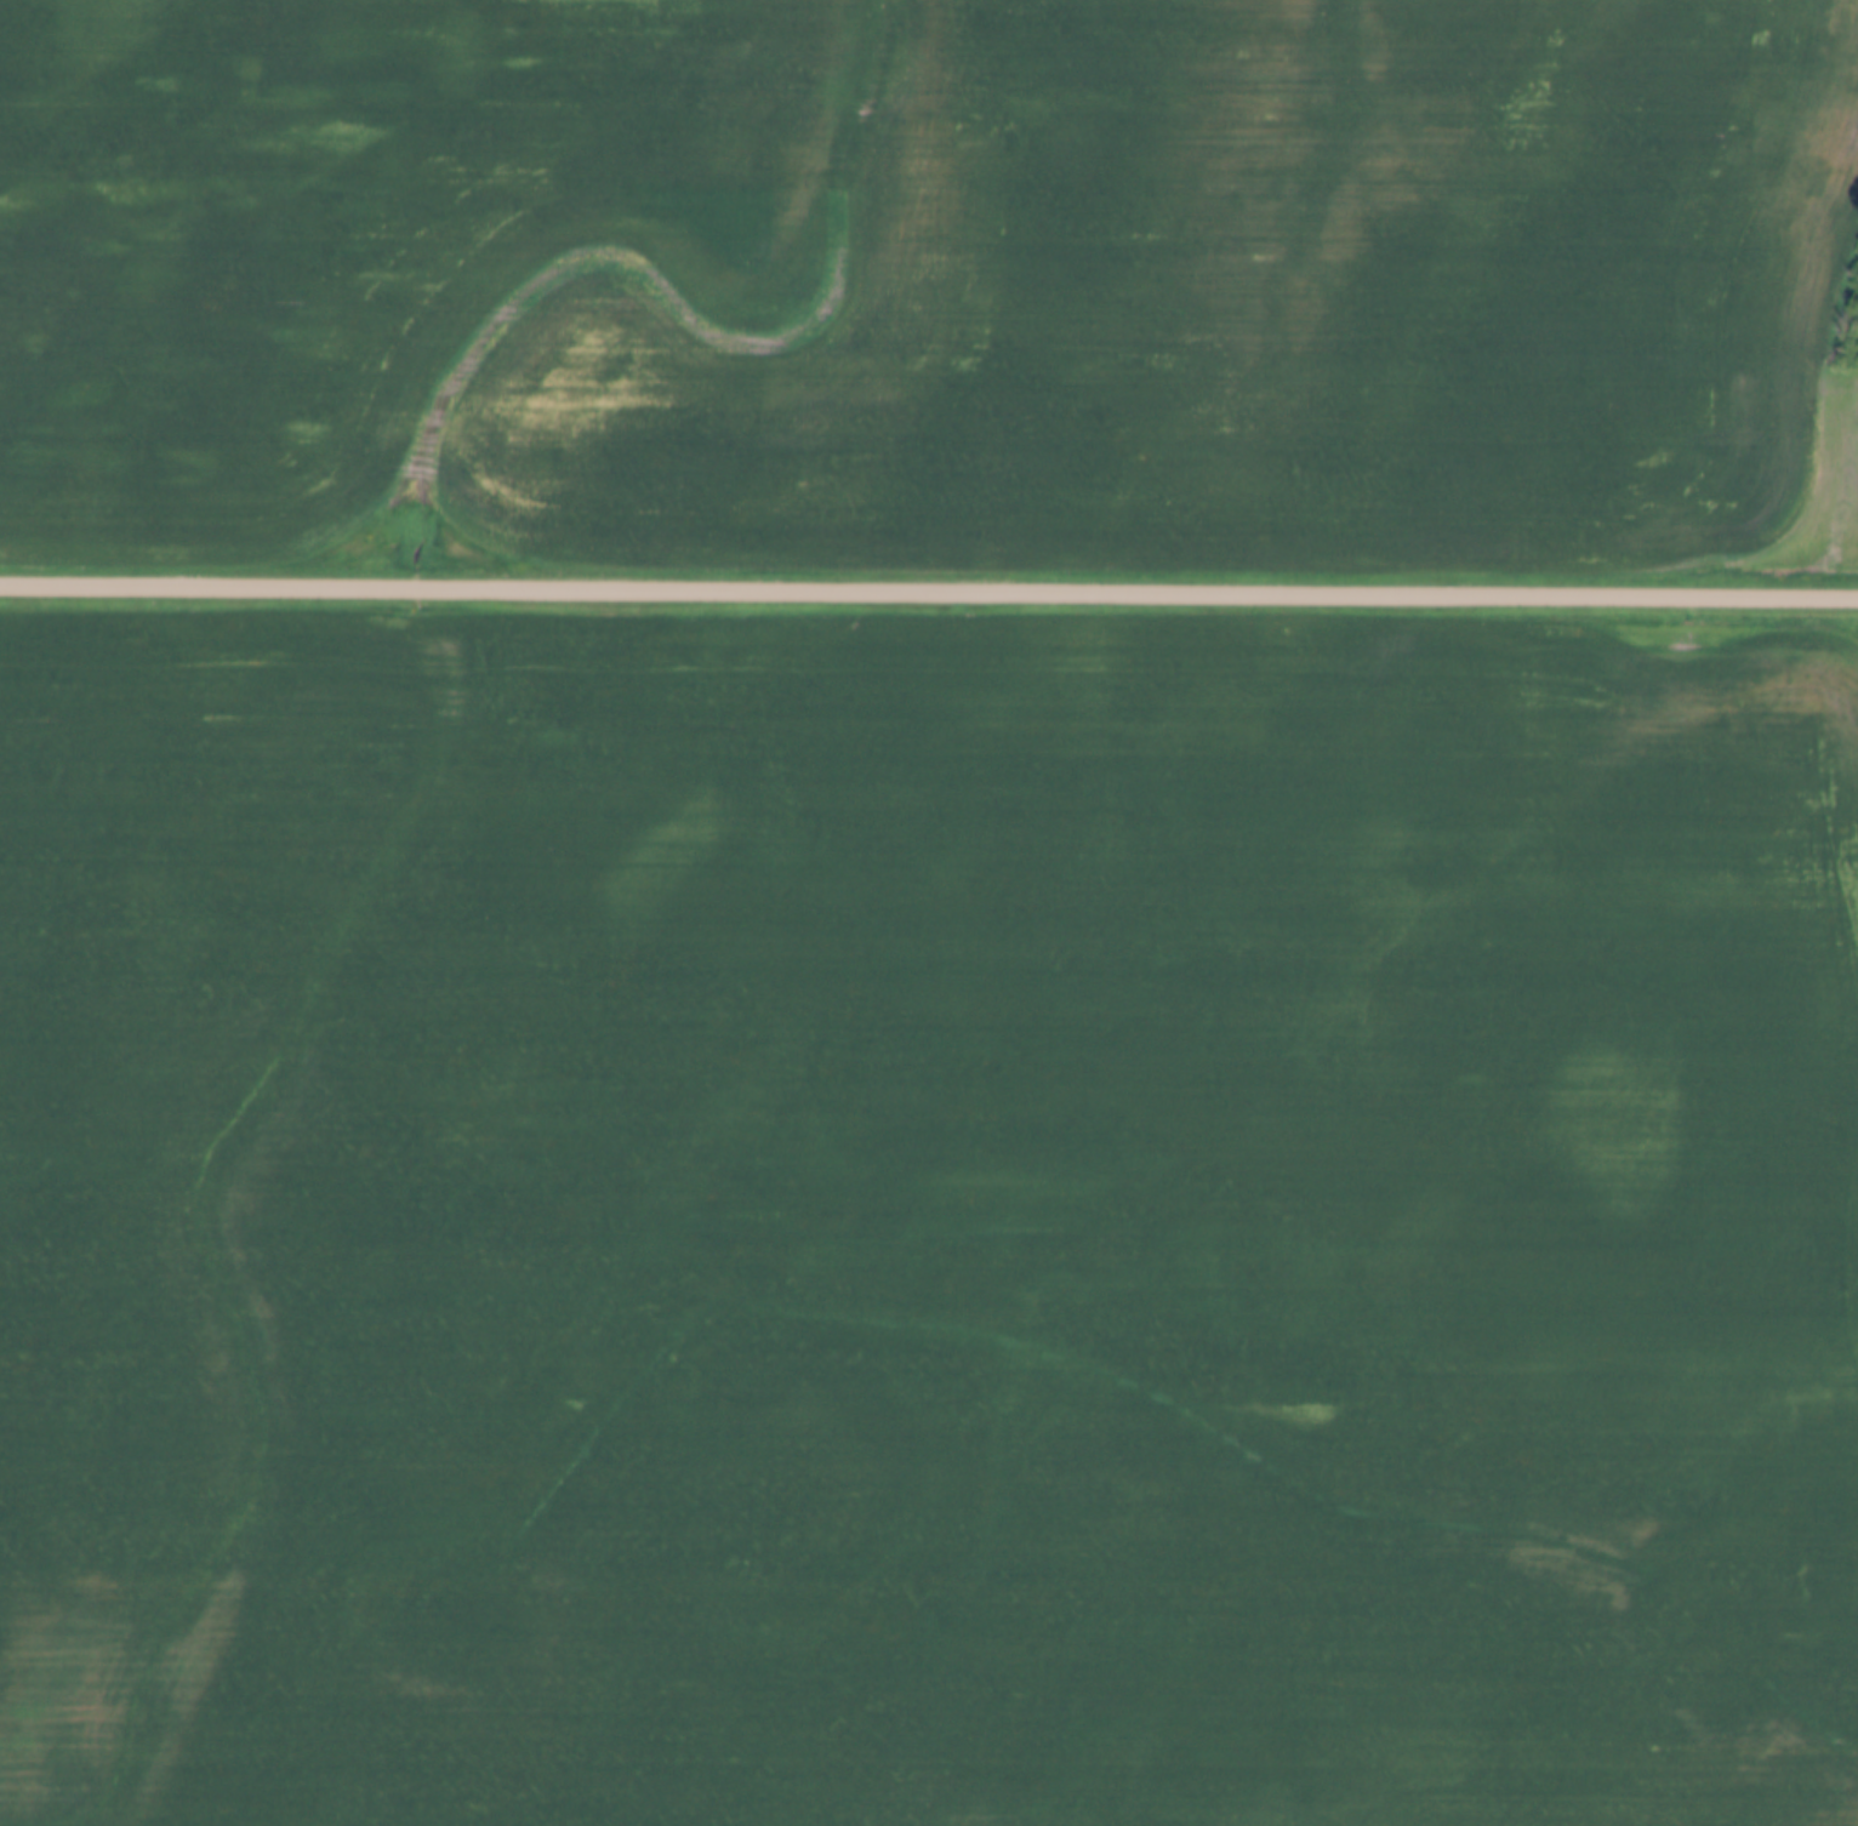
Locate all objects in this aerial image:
road: (928, 586)

